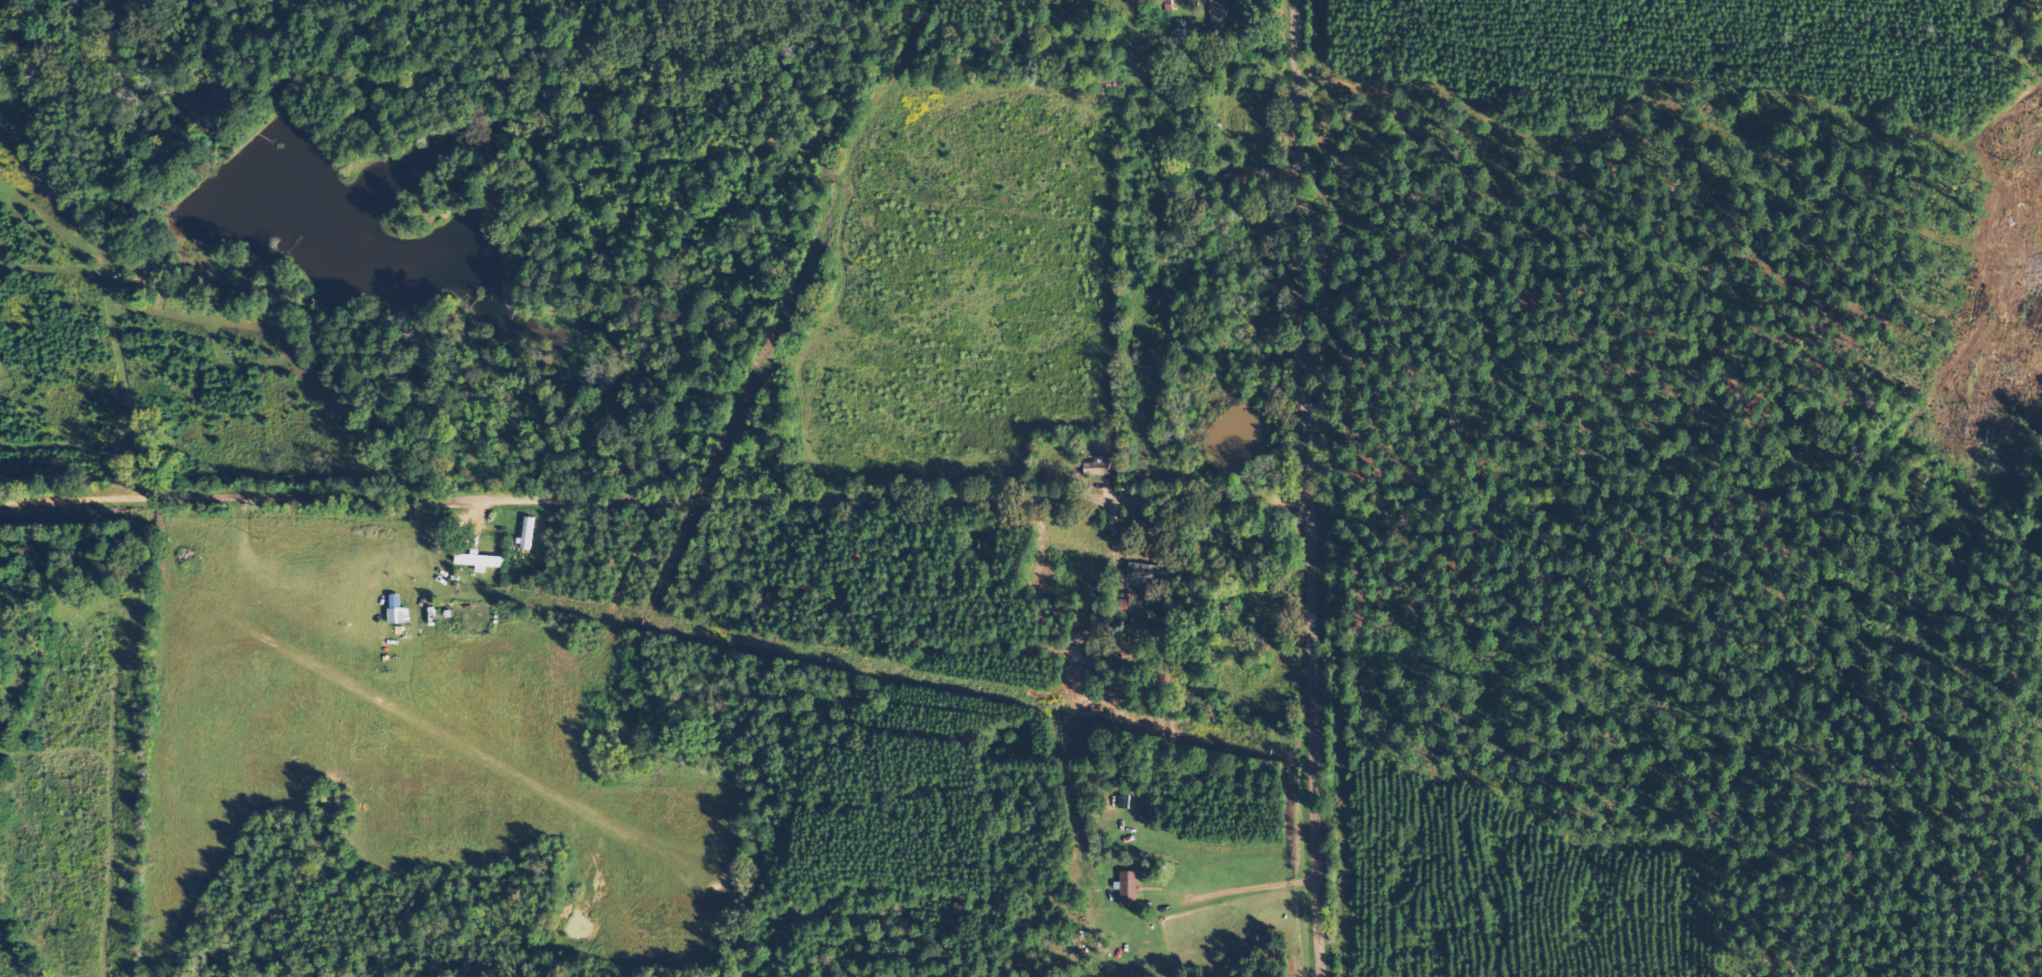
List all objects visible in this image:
building: (1224, 10)
road: (1311, 488)
road: (655, 507)
building: (480, 560)
building: (1144, 572)
building: (400, 610)
building: (1131, 888)

